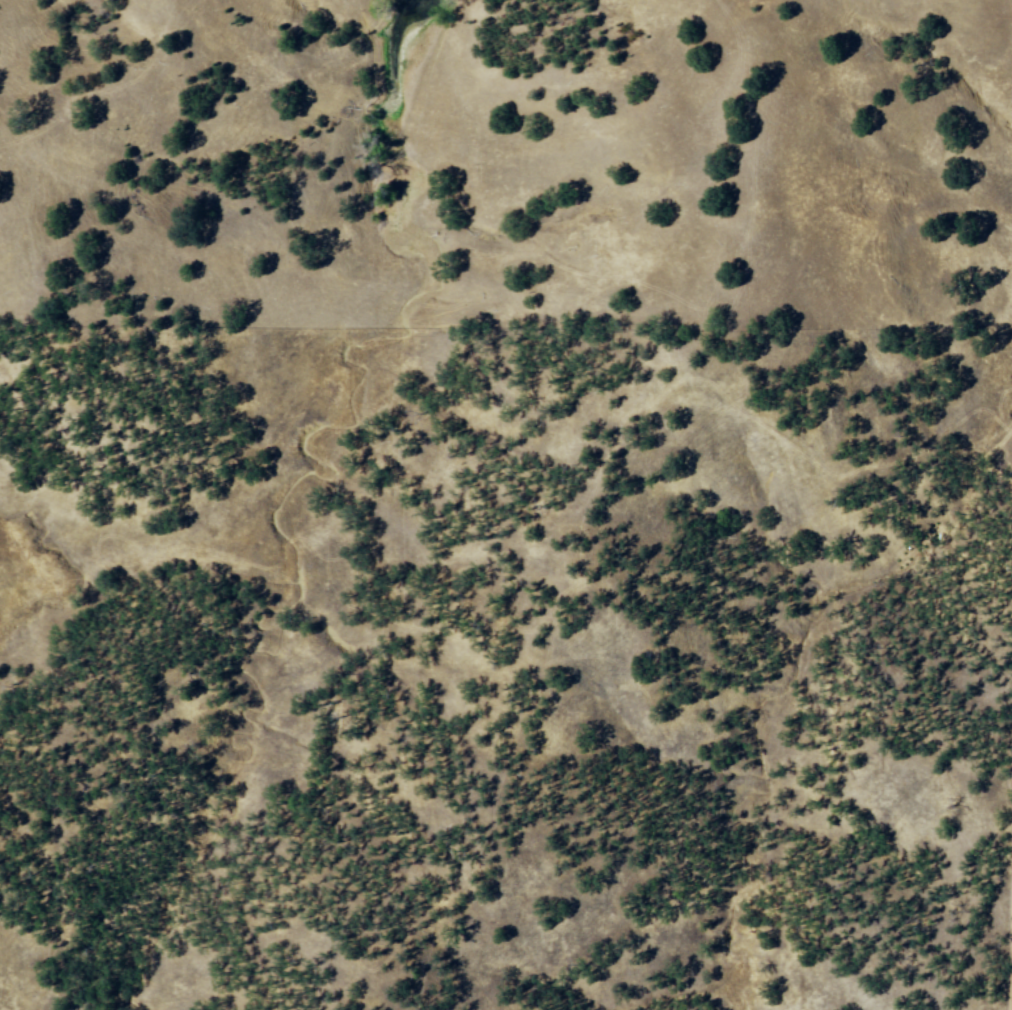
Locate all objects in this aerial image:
road: (1010, 936)

